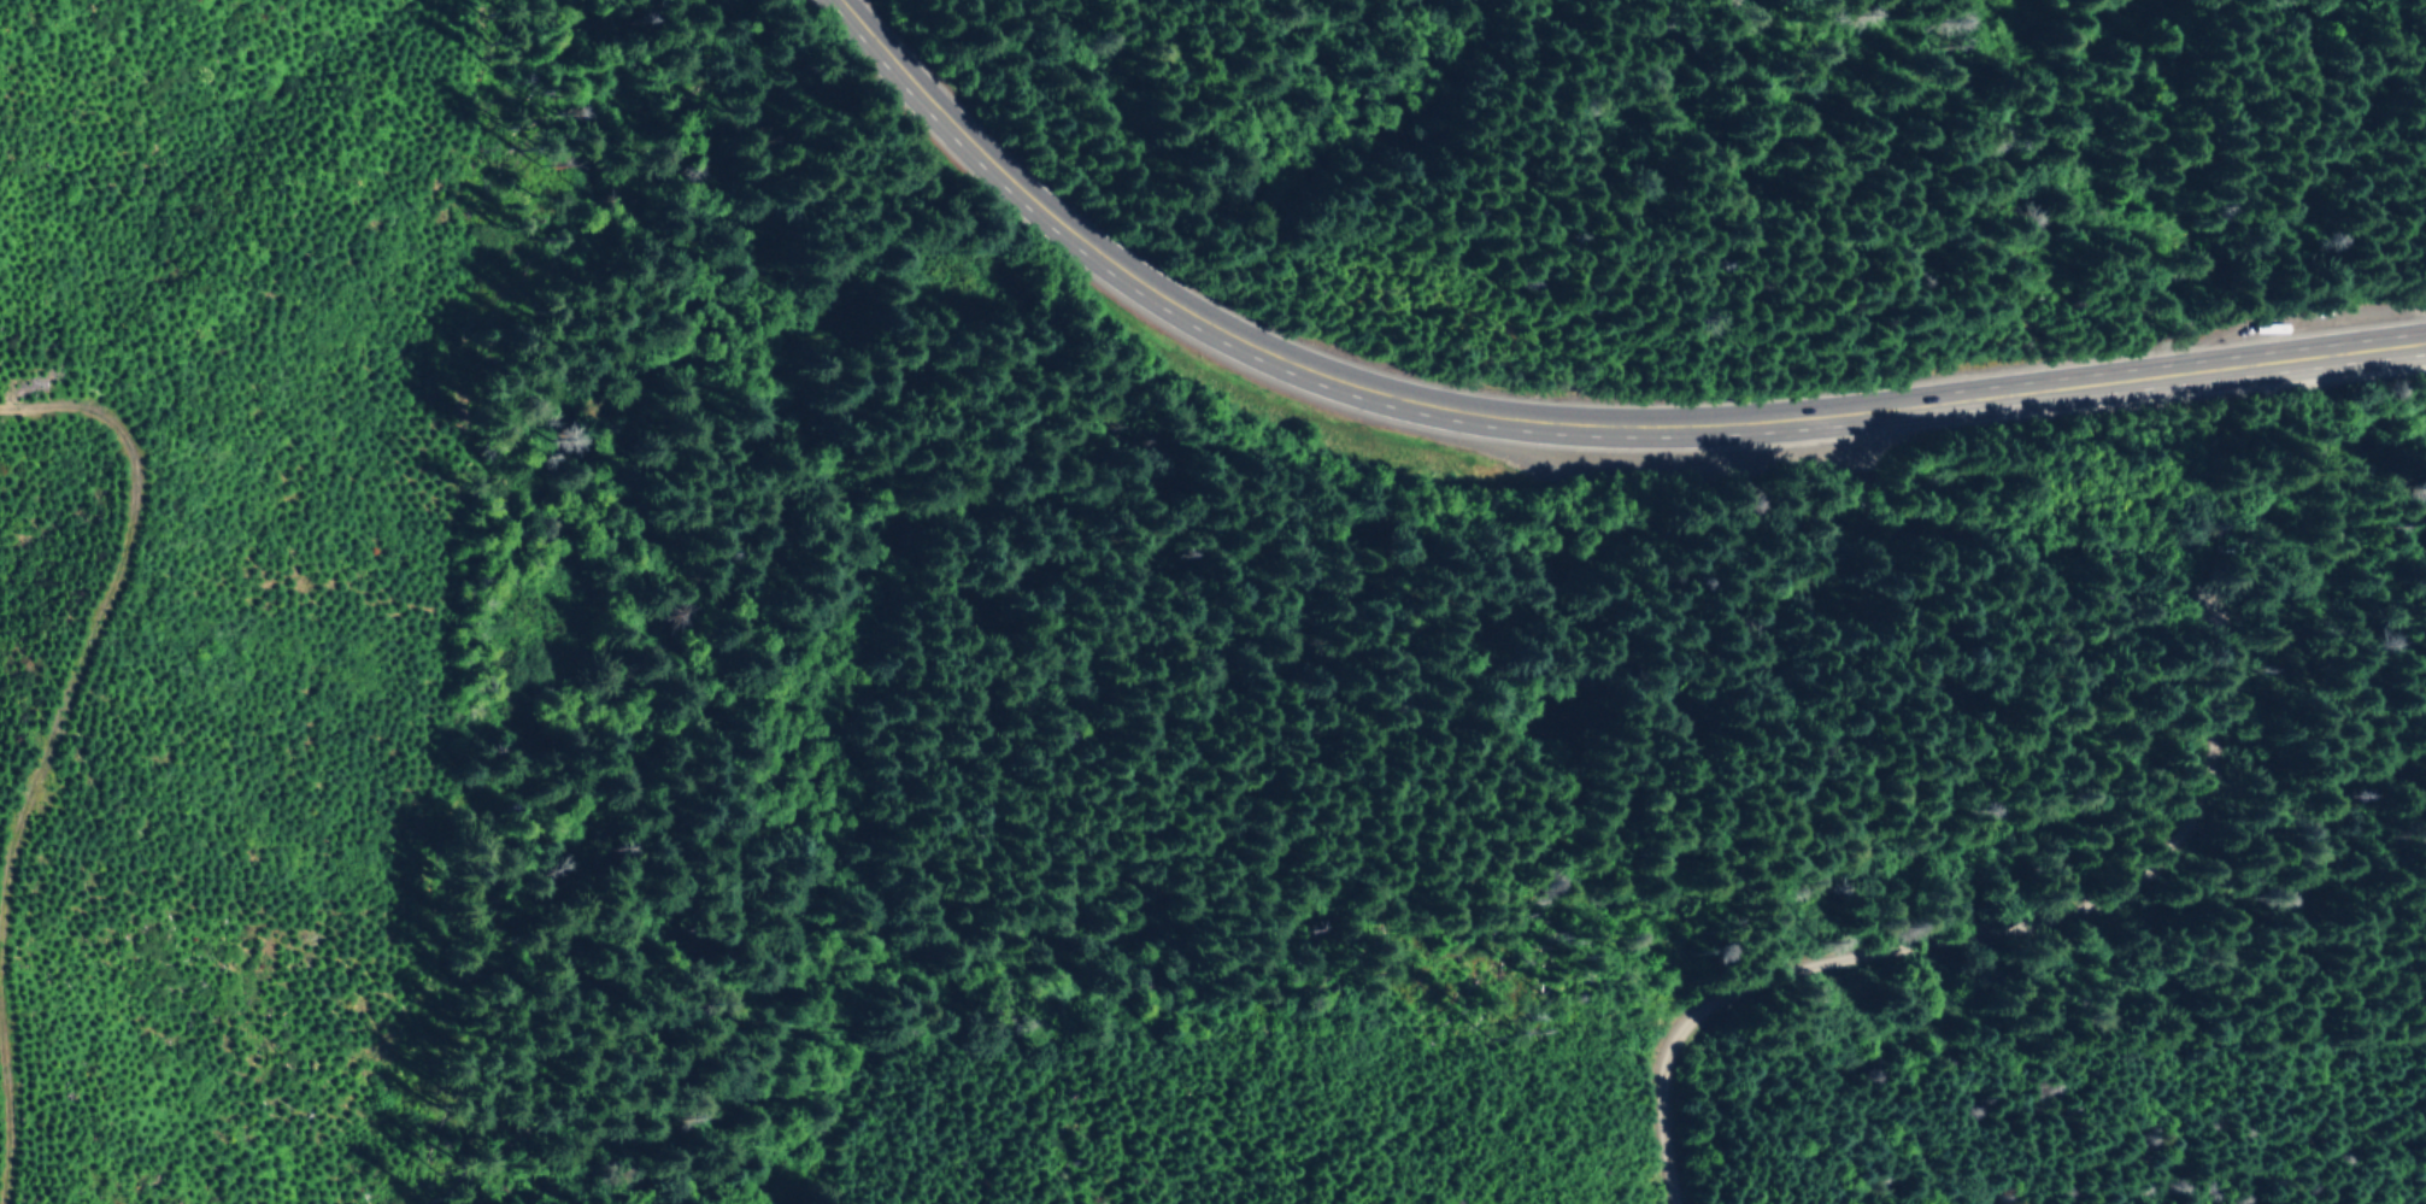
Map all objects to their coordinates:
road: (1566, 418)
road: (2152, 841)

